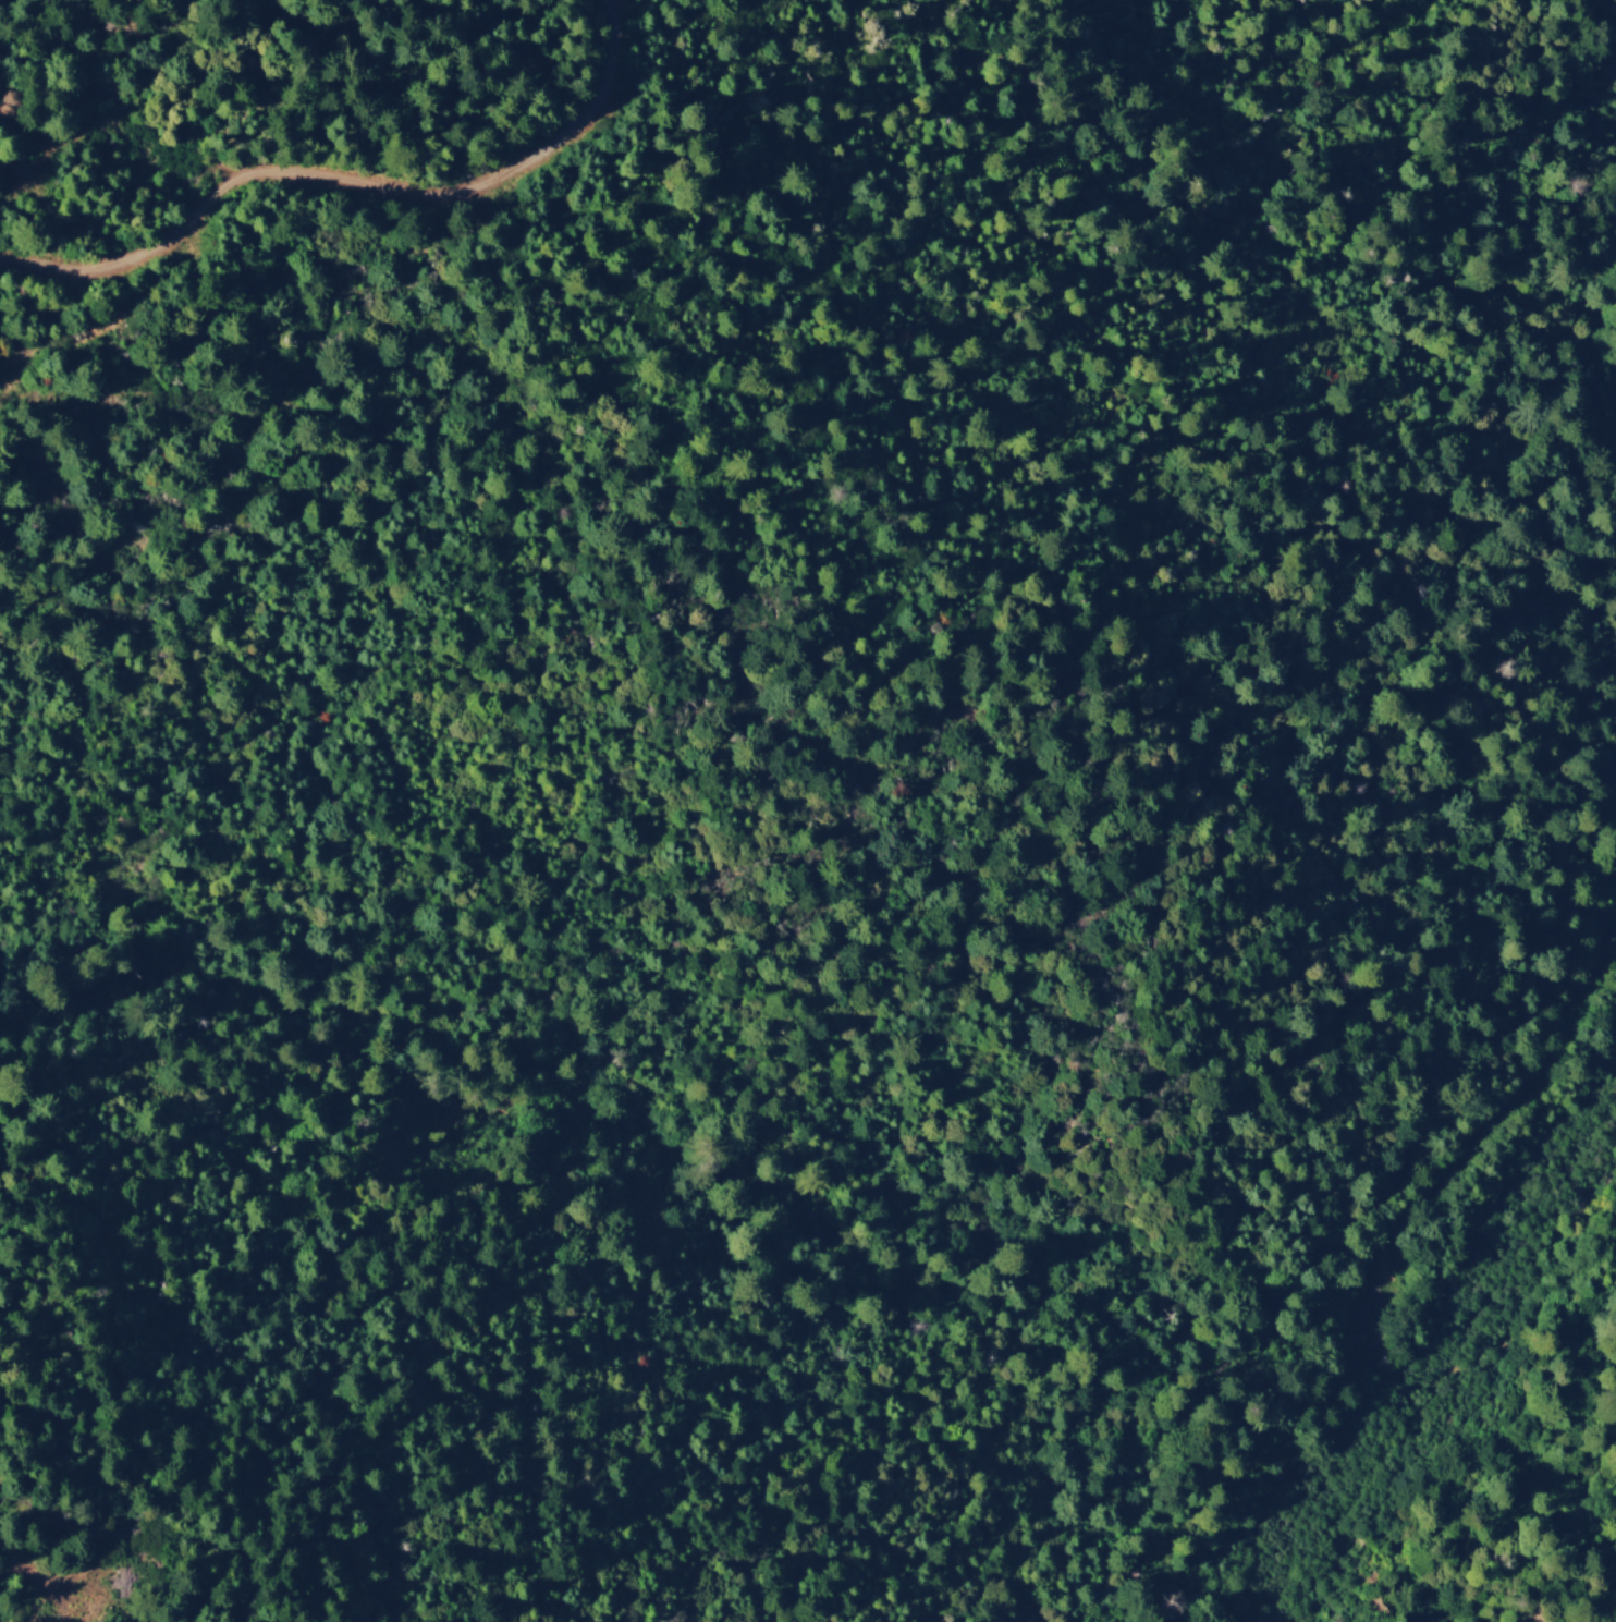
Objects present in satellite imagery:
road: (1454, 1199)

